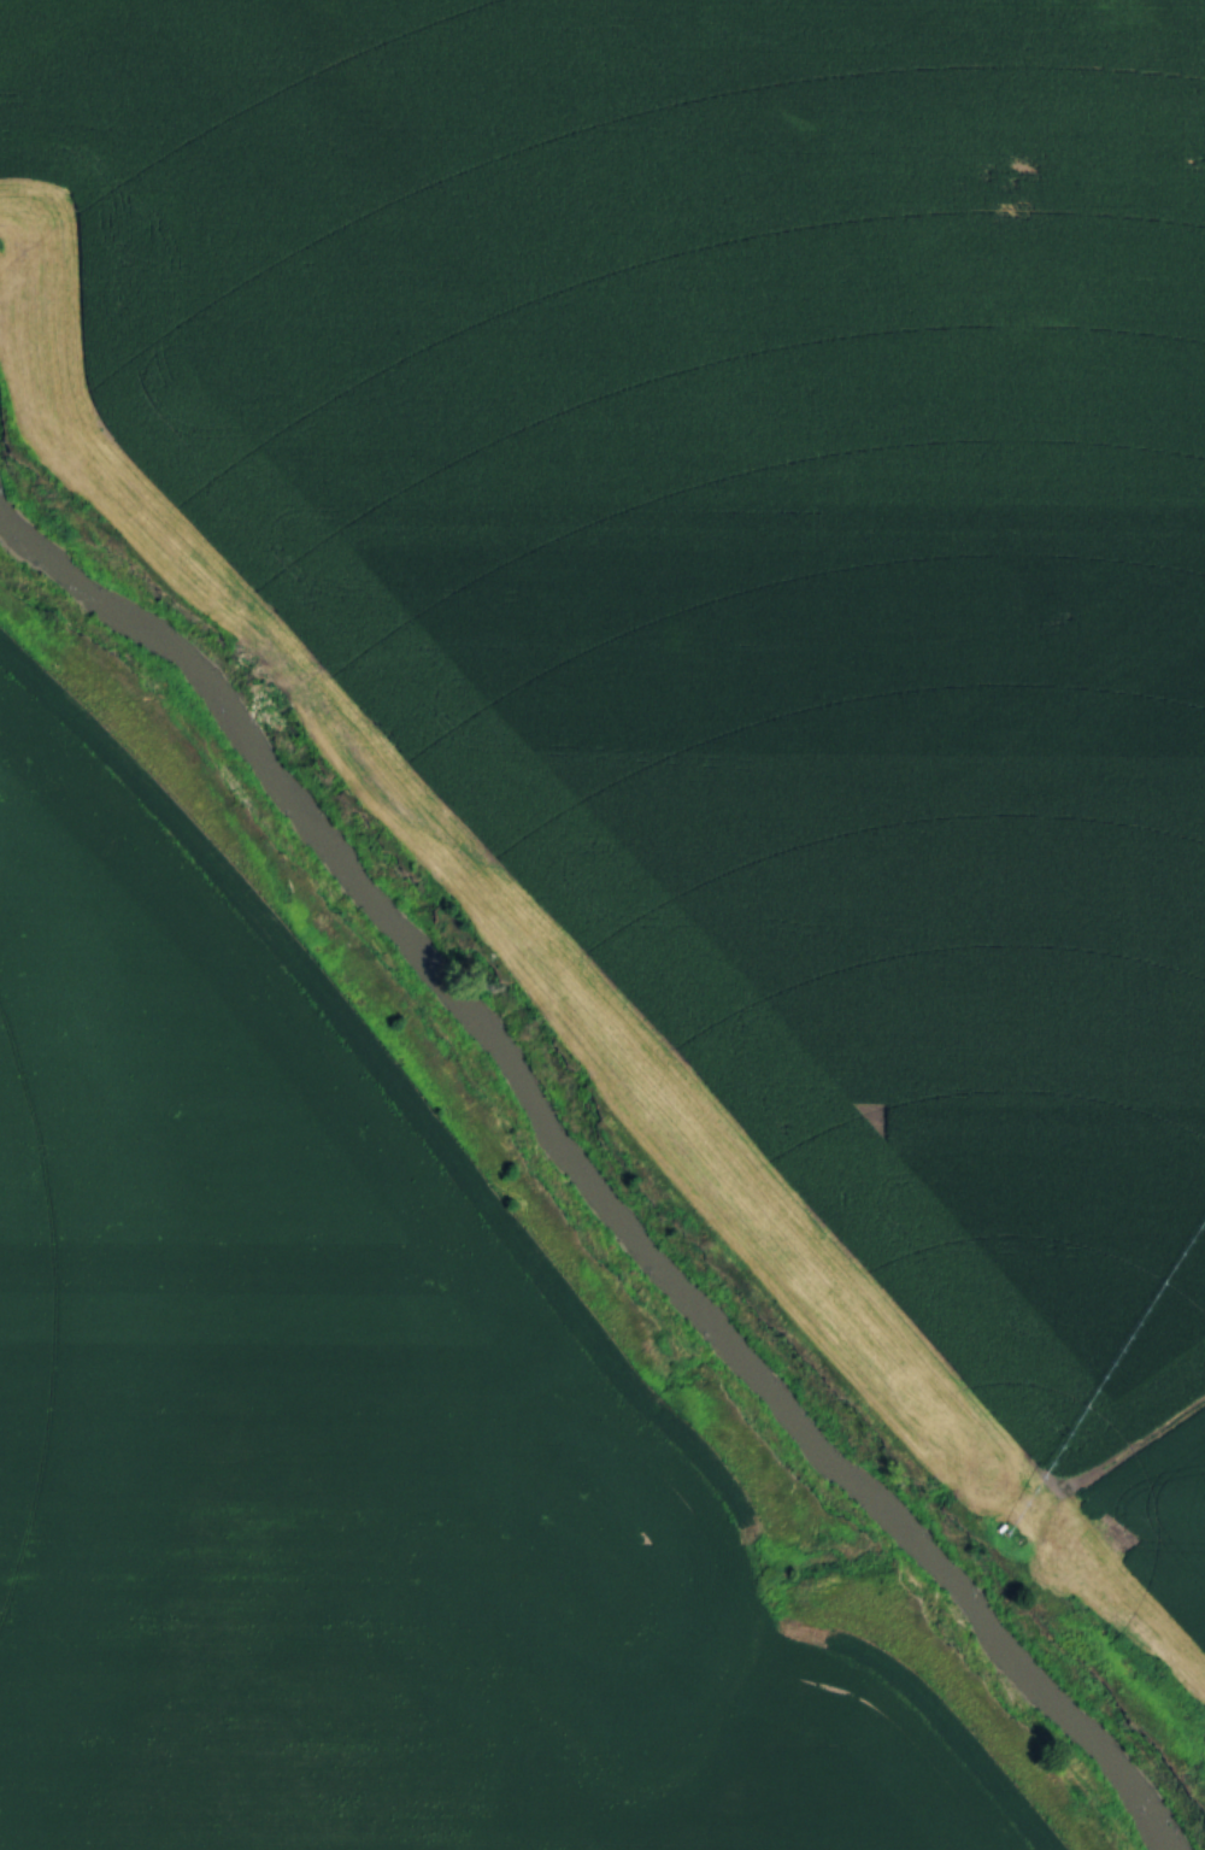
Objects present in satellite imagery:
river: (582, 1182)

